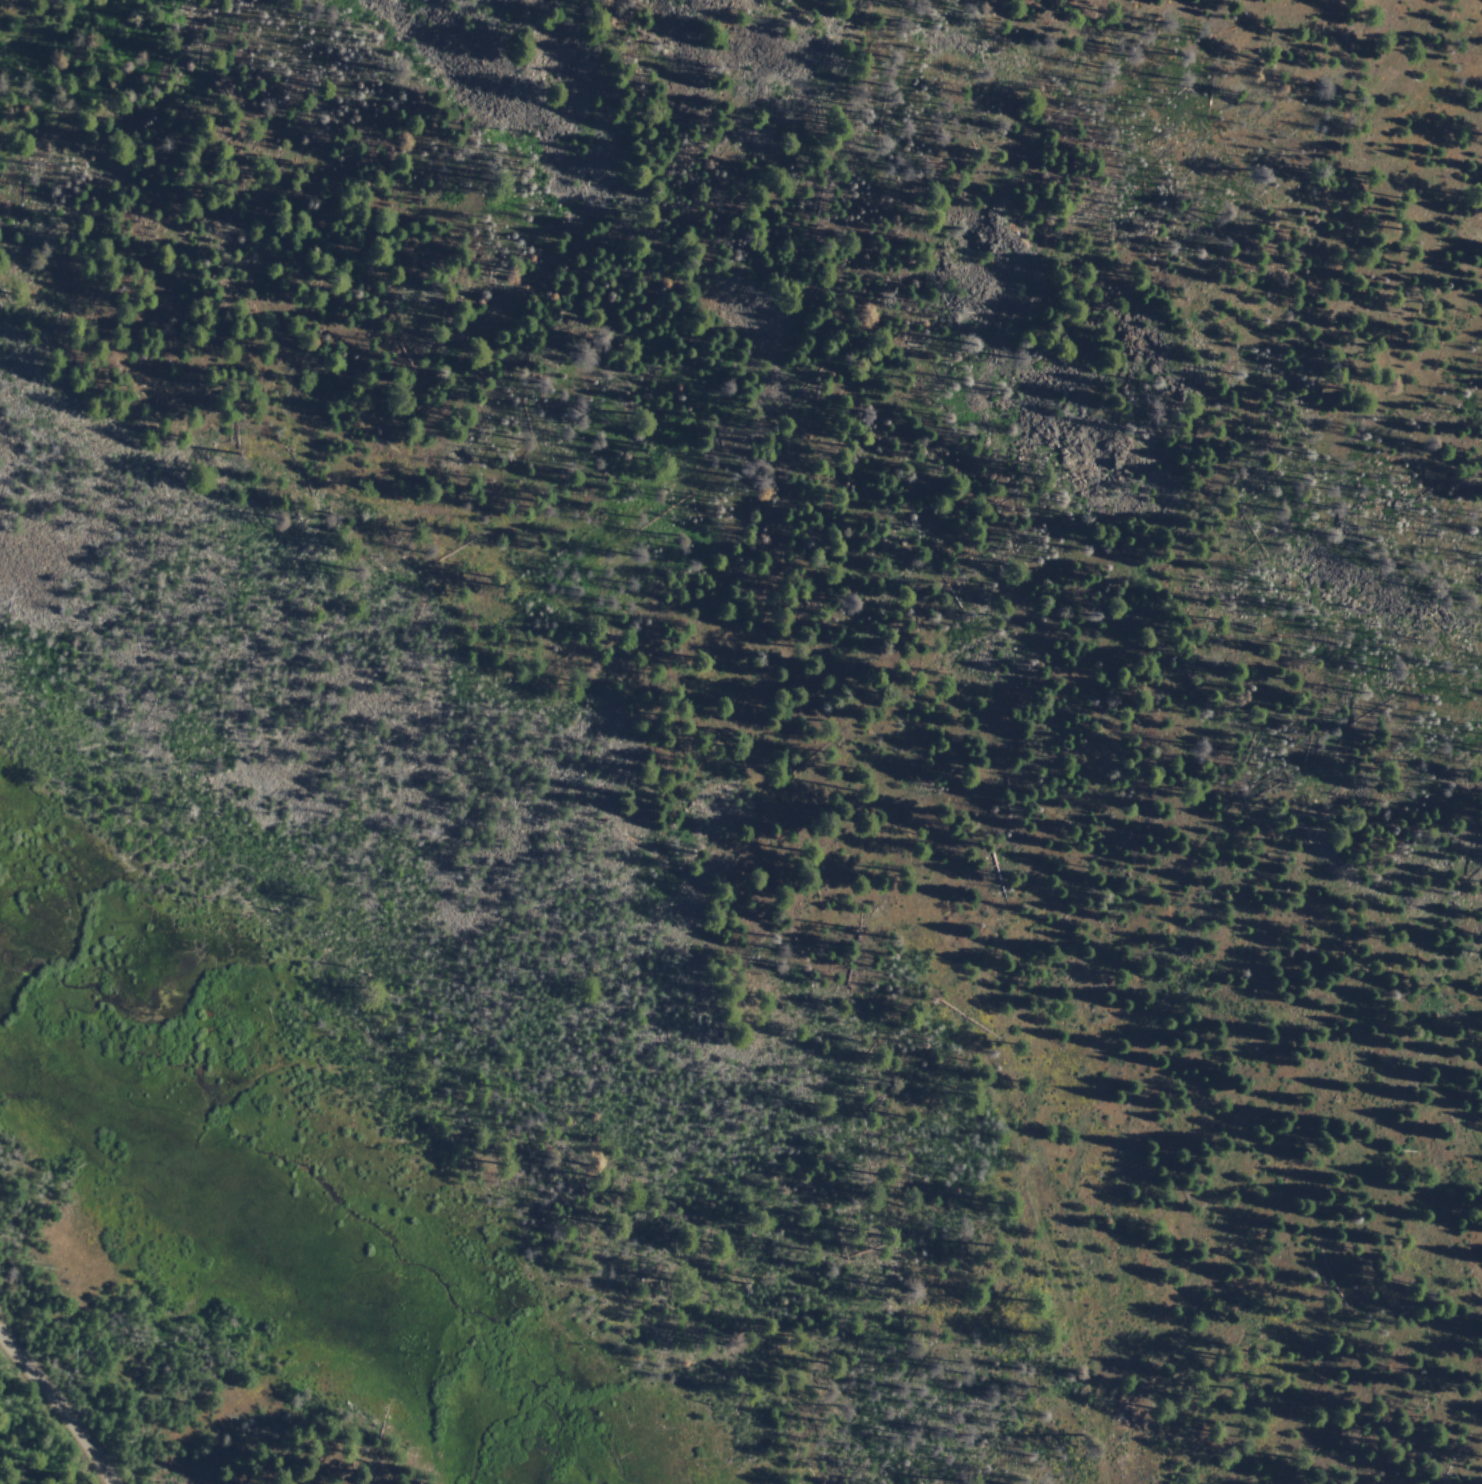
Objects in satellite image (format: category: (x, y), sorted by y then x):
road: (859, 893)
road: (57, 1413)

